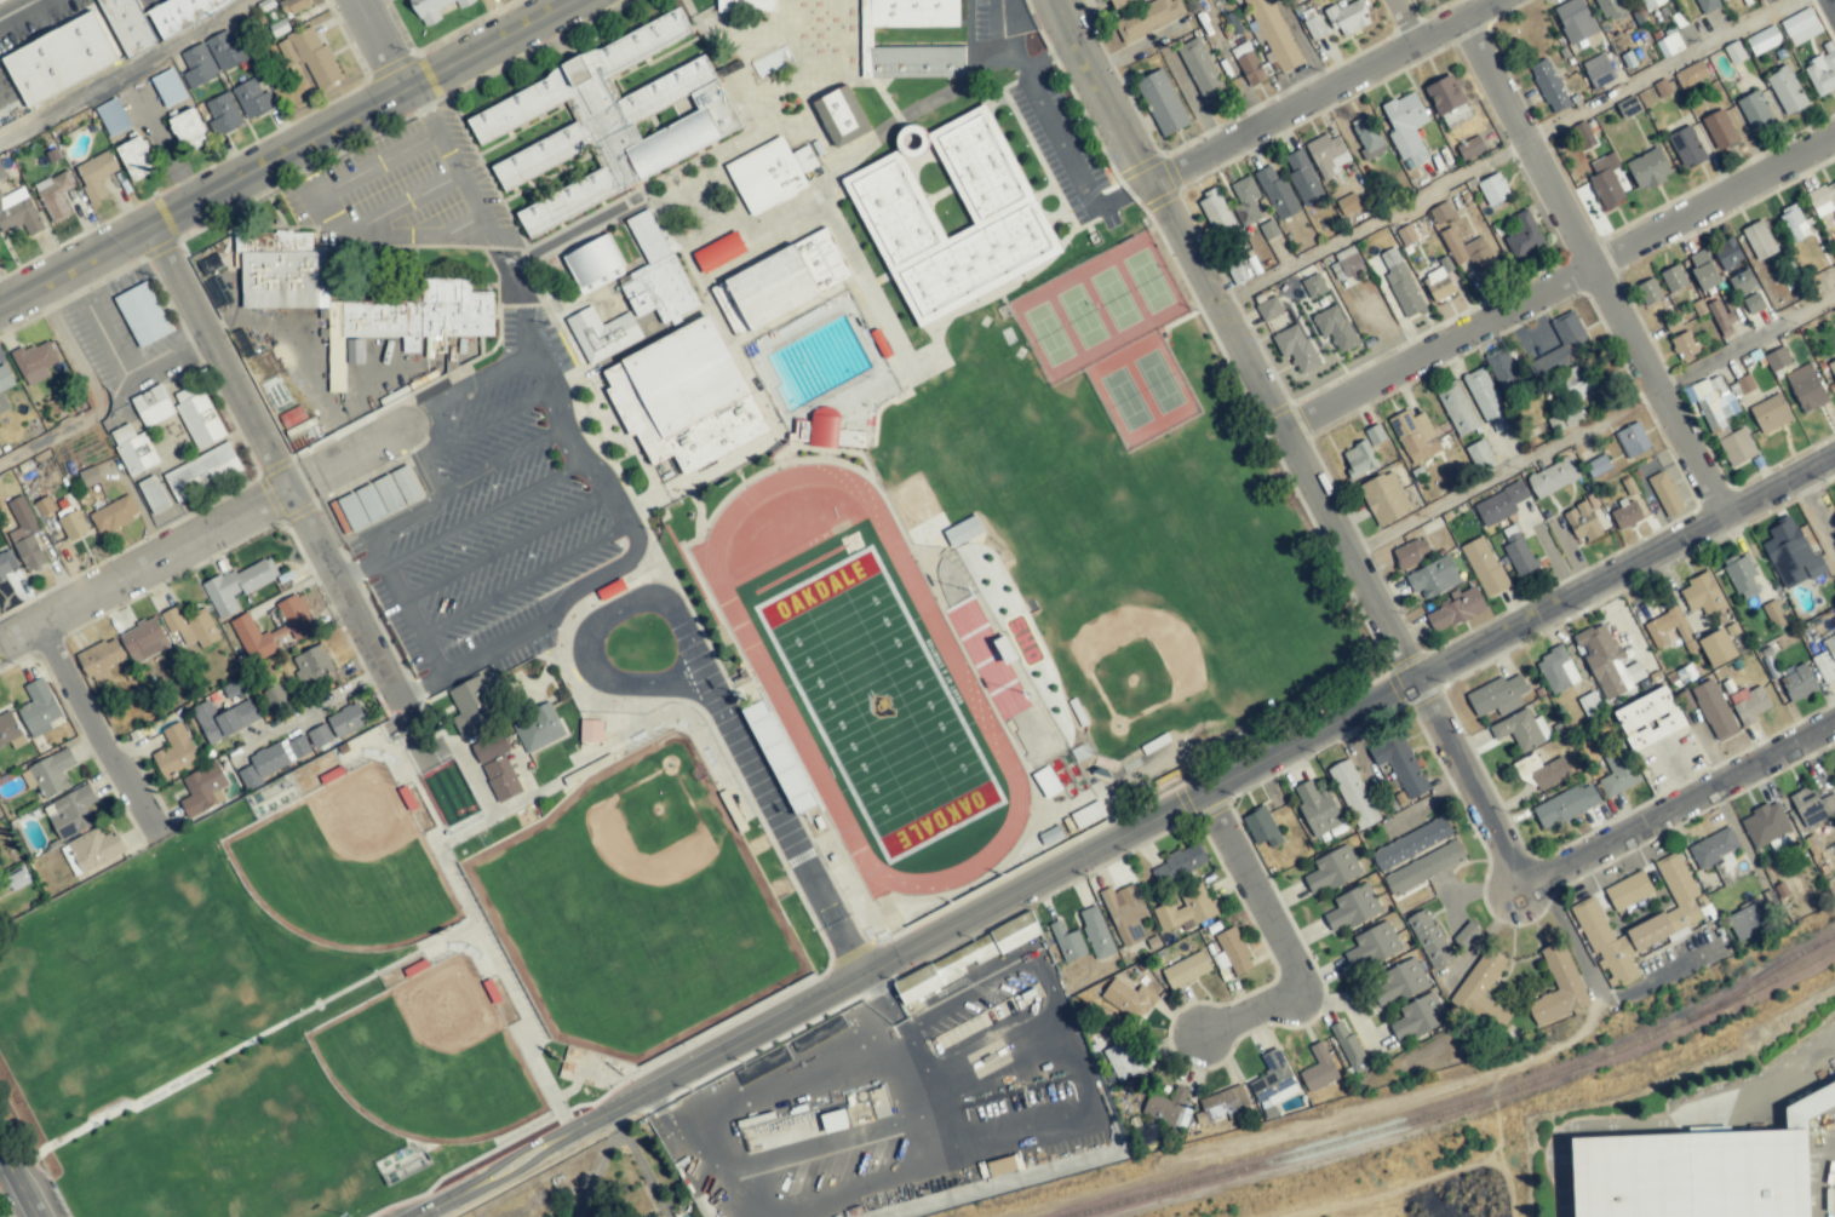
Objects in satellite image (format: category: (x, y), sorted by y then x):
building: (1765, 0)
building: (1116, 1)
building: (1650, 4)
building: (293, 5)
building: (746, 5)
road: (1016, 5)
building: (1707, 5)
road: (1831, 5)
building: (434, 8)
building: (1610, 8)
building: (183, 13)
building: (1347, 17)
building: (1147, 18)
building: (1575, 21)
road: (1413, 22)
building: (128, 25)
building: (1800, 27)
building: (1273, 34)
building: (866, 36)
building: (1675, 40)
building: (1764, 40)
road: (385, 46)
road: (1300, 48)
building: (310, 57)
building: (61, 58)
building: (212, 58)
road: (1049, 58)
building: (1249, 65)
building: (1823, 70)
road: (127, 71)
building: (1598, 71)
building: (1202, 73)
building: (1691, 75)
building: (168, 87)
building: (1549, 87)
building: (1787, 91)
road: (1334, 93)
building: (1444, 96)
building: (252, 99)
building: (1162, 103)
building: (1755, 111)
building: (222, 114)
building: (841, 116)
building: (113, 117)
building: (609, 121)
building: (1406, 128)
building: (189, 130)
building: (1720, 130)
road: (1051, 136)
building: (1367, 137)
building: (1686, 147)
building: (1470, 148)
road: (1506, 149)
building: (1327, 154)
road: (289, 155)
building: (136, 159)
road: (374, 163)
building: (1648, 170)
building: (1, 172)
building: (770, 174)
building: (96, 176)
building: (1302, 177)
building: (1606, 182)
building: (1492, 189)
building: (1277, 194)
building: (55, 195)
building: (1823, 200)
building: (1245, 201)
road: (396, 202)
building: (1348, 203)
building: (18, 212)
building: (1216, 213)
building: (951, 214)
building: (1443, 216)
building: (1793, 223)
road: (365, 234)
building: (1523, 236)
building: (1759, 241)
building: (718, 252)
building: (1469, 252)
building: (1727, 254)
building: (592, 260)
building: (1348, 262)
road: (1598, 269)
building: (1702, 270)
building: (1238, 275)
building: (1673, 279)
building: (601, 281)
building: (778, 282)
building: (1399, 283)
building: (1439, 283)
building: (1743, 283)
building: (1313, 286)
road: (1564, 288)
building: (660, 289)
building: (1648, 292)
building: (1754, 303)
building: (1268, 309)
building: (142, 314)
building: (409, 322)
building: (1335, 328)
building: (602, 334)
building: (1565, 340)
building: (1685, 345)
building: (1297, 350)
building: (1777, 360)
building: (34, 362)
road: (117, 367)
building: (1831, 368)
building: (1503, 372)
building: (1575, 381)
building: (1744, 384)
road: (470, 385)
building: (4, 386)
building: (1806, 388)
building: (684, 397)
road: (94, 398)
building: (1486, 400)
building: (153, 406)
building: (1457, 408)
building: (1770, 413)
building: (197, 415)
building: (292, 417)
road: (495, 418)
building: (1564, 419)
road: (1595, 419)
building: (1722, 421)
building: (801, 430)
building: (832, 431)
building: (1375, 435)
road: (1295, 436)
building: (1415, 436)
building: (1633, 440)
building: (133, 449)
road: (586, 449)
building: (0, 452)
building: (1479, 454)
road: (350, 457)
road: (504, 459)
building: (1359, 459)
building: (1598, 466)
building: (202, 472)
building: (1553, 477)
road: (431, 484)
building: (1665, 494)
building: (153, 495)
road: (292, 495)
building: (1384, 498)
road: (1820, 499)
building: (377, 500)
building: (1499, 504)
road: (486, 512)
building: (113, 515)
building: (1625, 516)
building: (1582, 522)
building: (71, 523)
building: (963, 530)
building: (24, 535)
road: (505, 547)
building: (1410, 553)
building: (1518, 553)
building: (1790, 555)
building: (6, 564)
road: (144, 566)
building: (1484, 567)
road: (357, 574)
building: (1741, 575)
building: (1433, 578)
road: (522, 581)
building: (237, 585)
building: (1702, 593)
road: (402, 608)
building: (1455, 610)
building: (1834, 620)
building: (190, 626)
road: (592, 626)
building: (297, 627)
building: (1667, 628)
building: (143, 641)
building: (1716, 648)
building: (101, 660)
building: (1827, 660)
building: (1606, 662)
building: (312, 666)
building: (1556, 671)
road: (763, 674)
track: (763, 674)
building: (1797, 683)
building: (1497, 696)
park: (877, 704)
building: (1749, 704)
building: (472, 706)
road: (315, 707)
building: (39, 708)
building: (1714, 710)
building: (1648, 718)
building: (223, 719)
building: (346, 721)
building: (7, 728)
building: (538, 729)
building: (1521, 729)
road: (94, 730)
building: (590, 730)
building: (320, 736)
building: (489, 748)
building: (174, 751)
building: (273, 760)
building: (1400, 764)
building: (1547, 771)
building: (1618, 773)
building: (50, 774)
building: (500, 779)
building: (1045, 782)
road: (1222, 786)
building: (202, 790)
building: (1353, 794)
road: (1686, 799)
building: (1565, 805)
building: (1812, 806)
building: (1317, 809)
building: (70, 813)
building: (1086, 815)
building: (1765, 825)
building: (1262, 827)
road: (784, 828)
building: (1411, 844)
building: (92, 850)
building: (1715, 850)
building: (1179, 863)
park: (345, 865)
building: (1424, 868)
building: (1331, 871)
building: (16, 878)
road: (1265, 884)
building: (1628, 891)
park: (637, 902)
building: (1352, 907)
building: (1186, 909)
building: (1124, 913)
building: (1745, 922)
building: (1657, 928)
road: (1569, 930)
building: (1015, 932)
building: (1095, 932)
building: (1466, 935)
building: (1429, 940)
building: (1067, 942)
building: (1372, 947)
building: (1232, 952)
building: (1186, 970)
railway: (1764, 974)
building: (1397, 983)
building: (1558, 987)
building: (916, 989)
building: (1481, 992)
building: (1128, 999)
road: (1344, 1004)
road: (1260, 1010)
building: (1417, 1017)
building: (1349, 1049)
park: (430, 1055)
building: (1124, 1061)
building: (1318, 1069)
road: (801, 1078)
building: (1273, 1078)
building: (1223, 1103)
railway: (1460, 1106)
road: (612, 1115)
road: (1673, 1120)
road: (508, 1164)
building: (1690, 1169)
road: (19, 1178)

